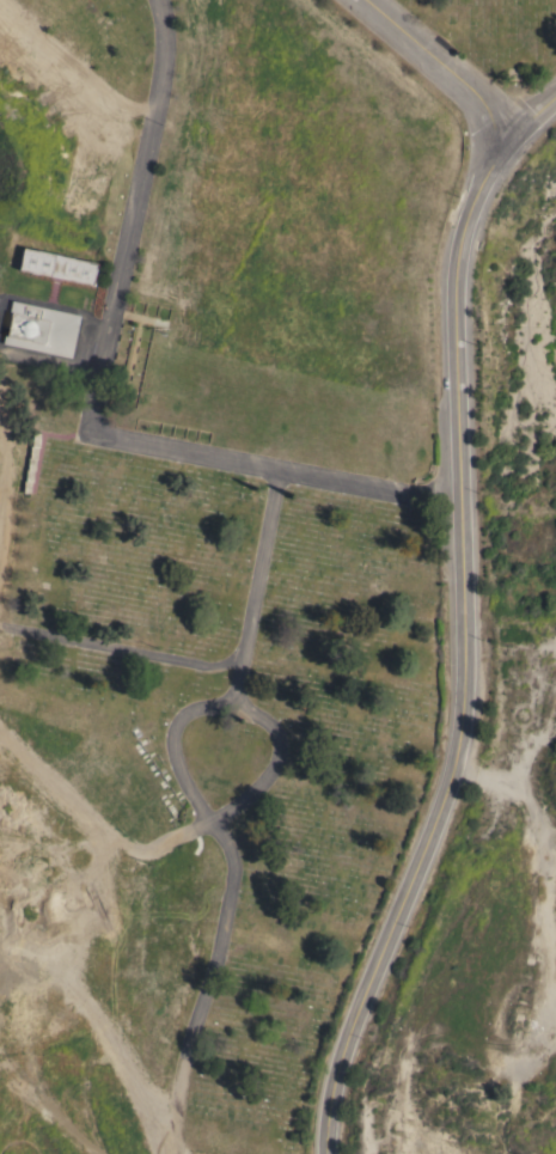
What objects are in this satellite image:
park: (494, 33)
road: (444, 67)
building: (59, 267)
building: (42, 329)
road: (96, 403)
building: (31, 463)
park: (213, 575)
road: (251, 586)
road: (465, 627)
road: (118, 651)
road: (527, 741)
road: (167, 745)
road: (270, 763)
road: (204, 985)

